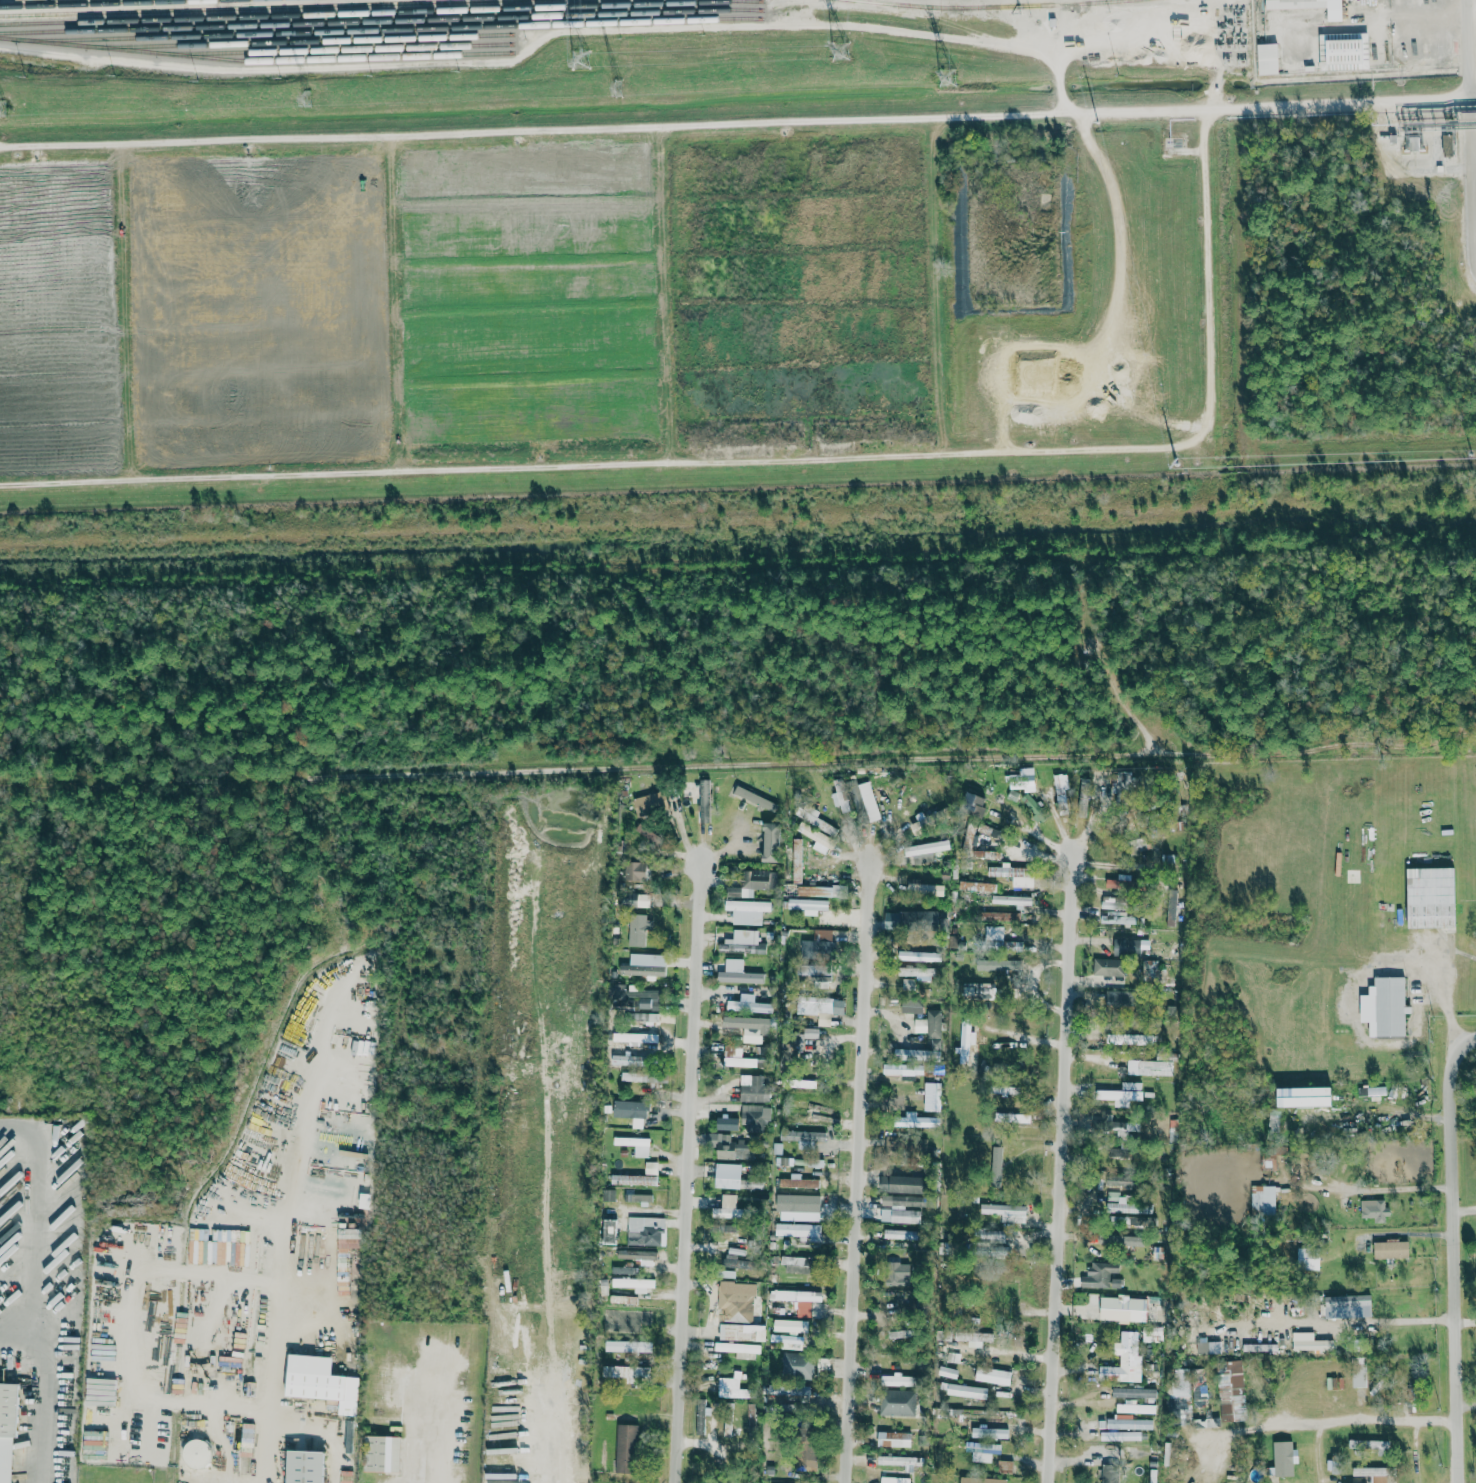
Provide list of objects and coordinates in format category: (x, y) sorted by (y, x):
railway: (109, 3)
building: (1310, 6)
railway: (252, 7)
railway: (995, 7)
railway: (398, 29)
road: (549, 31)
railway: (255, 59)
building: (1268, 59)
road: (1342, 106)
road: (604, 125)
road: (1411, 162)
road: (772, 457)
road: (738, 767)
building: (1122, 782)
building: (1061, 786)
building: (756, 798)
building: (704, 801)
building: (869, 801)
building: (651, 803)
building: (974, 805)
road: (1294, 812)
building: (814, 818)
building: (645, 831)
building: (815, 835)
building: (772, 842)
building: (927, 848)
building: (797, 860)
building: (635, 871)
building: (1014, 875)
building: (749, 883)
building: (977, 886)
building: (822, 891)
building: (1431, 897)
building: (636, 900)
building: (1011, 900)
building: (809, 905)
building: (747, 911)
building: (1115, 912)
building: (911, 917)
building: (638, 930)
building: (995, 936)
building: (823, 940)
building: (743, 942)
road: (1385, 948)
building: (920, 956)
building: (1116, 958)
building: (644, 965)
building: (915, 972)
building: (738, 973)
building: (816, 974)
building: (908, 983)
building: (975, 989)
building: (617, 990)
building: (1117, 998)
building: (649, 1000)
building: (748, 1005)
building: (912, 1006)
building: (1385, 1007)
building: (820, 1008)
building: (644, 1017)
building: (929, 1024)
building: (749, 1027)
building: (811, 1033)
building: (635, 1038)
building: (966, 1039)
road: (1473, 1043)
building: (737, 1058)
building: (629, 1060)
building: (1149, 1067)
building: (903, 1069)
building: (633, 1077)
building: (801, 1083)
building: (752, 1088)
building: (1375, 1091)
building: (1123, 1094)
building: (932, 1096)
building: (1305, 1097)
building: (809, 1108)
building: (630, 1110)
building: (755, 1117)
building: (1015, 1118)
building: (916, 1121)
building: (727, 1123)
building: (1128, 1127)
building: (802, 1136)
building: (731, 1146)
building: (641, 1151)
building: (997, 1158)
road: (1066, 1165)
road: (694, 1168)
road: (862, 1168)
building: (639, 1176)
building: (733, 1177)
building: (1115, 1180)
building: (798, 1182)
building: (903, 1184)
building: (608, 1195)
building: (638, 1197)
building: (1263, 1200)
building: (798, 1203)
building: (1124, 1204)
building: (729, 1208)
building: (901, 1208)
building: (1374, 1210)
building: (1006, 1212)
road: (32, 1220)
building: (646, 1231)
building: (800, 1231)
building: (610, 1232)
building: (900, 1234)
building: (995, 1236)
building: (348, 1238)
building: (1129, 1241)
building: (1391, 1250)
building: (637, 1254)
building: (1308, 1259)
road: (1458, 1261)
building: (737, 1262)
building: (800, 1264)
building: (622, 1270)
building: (1104, 1276)
building: (635, 1284)
building: (623, 1299)
building: (800, 1300)
building: (1349, 1301)
building: (993, 1305)
building: (1123, 1309)
building: (738, 1316)
road: (1408, 1321)
building: (791, 1326)
building: (970, 1336)
building: (780, 1339)
building: (1310, 1342)
building: (629, 1346)
building: (739, 1350)
building: (1124, 1359)
building: (797, 1366)
building: (621, 1372)
building: (947, 1372)
building: (1360, 1372)
building: (993, 1376)
building: (1198, 1381)
building: (1335, 1383)
building: (316, 1385)
building: (732, 1387)
building: (789, 1390)
building: (967, 1391)
building: (1231, 1391)
road: (43, 1393)
building: (1133, 1393)
building: (1179, 1393)
road: (274, 1397)
building: (898, 1403)
building: (1135, 1408)
building: (787, 1410)
road: (474, 1411)
road: (1393, 1414)
building: (970, 1417)
building: (993, 1417)
building: (700, 1418)
building: (751, 1418)
building: (1125, 1423)
road: (333, 1429)
building: (7, 1431)
building: (997, 1433)
building: (1120, 1436)
building: (350, 1437)
building: (894, 1440)
building: (1375, 1447)
building: (626, 1449)
building: (983, 1451)
building: (805, 1452)
building: (384, 1453)
building: (196, 1454)
building: (1285, 1459)
building: (900, 1460)
building: (306, 1467)
building: (1005, 1467)
building: (1373, 1473)
building: (1110, 1474)
building: (895, 1480)
building: (982, 1480)
road: (212, 1482)

